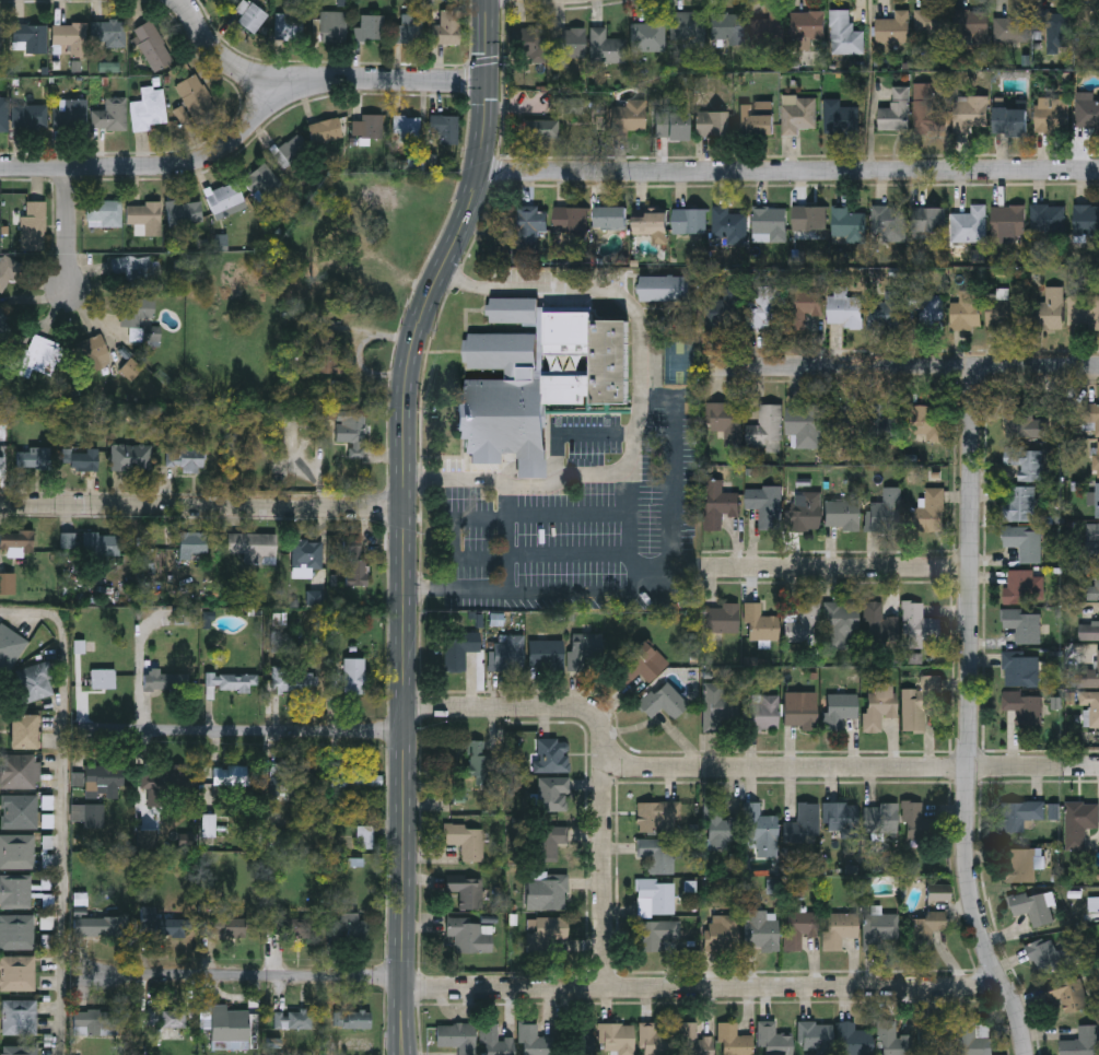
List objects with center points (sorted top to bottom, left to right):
building: (250, 16)
building: (932, 25)
building: (289, 26)
building: (332, 27)
building: (370, 27)
building: (409, 28)
building: (447, 28)
building: (728, 30)
building: (809, 30)
building: (972, 30)
building: (688, 31)
building: (893, 31)
building: (768, 32)
building: (1054, 32)
building: (108, 34)
building: (31, 36)
building: (70, 36)
building: (650, 36)
building: (844, 36)
building: (1013, 39)
building: (0, 40)
building: (569, 44)
building: (152, 46)
building: (607, 49)
road: (224, 63)
traffic signals: (488, 83)
building: (195, 96)
building: (149, 109)
building: (575, 109)
building: (70, 113)
building: (926, 113)
building: (1087, 113)
building: (3, 114)
building: (110, 115)
building: (30, 116)
building: (797, 116)
building: (971, 116)
building: (1051, 117)
building: (629, 118)
building: (895, 119)
building: (757, 120)
building: (840, 120)
building: (1010, 124)
building: (713, 125)
building: (671, 127)
building: (407, 128)
building: (444, 128)
building: (366, 129)
building: (324, 130)
building: (550, 130)
road: (246, 132)
building: (289, 151)
road: (788, 173)
building: (261, 178)
building: (381, 195)
building: (223, 197)
building: (184, 212)
building: (104, 213)
building: (144, 216)
building: (610, 220)
building: (28, 221)
building: (888, 221)
building: (1048, 221)
building: (571, 222)
building: (809, 222)
building: (927, 222)
building: (1008, 223)
building: (1086, 223)
building: (689, 224)
building: (770, 226)
building: (849, 226)
road: (71, 227)
building: (970, 227)
building: (530, 228)
building: (728, 228)
building: (652, 230)
building: (132, 268)
building: (5, 270)
building: (664, 291)
building: (926, 305)
building: (804, 308)
building: (135, 309)
building: (726, 310)
building: (764, 310)
building: (968, 310)
building: (893, 312)
building: (1049, 312)
building: (844, 313)
building: (1003, 313)
building: (1084, 313)
building: (2, 323)
building: (94, 352)
building: (328, 353)
building: (37, 355)
road: (904, 367)
building: (538, 379)
road: (642, 400)
building: (3, 414)
building: (923, 422)
building: (1090, 422)
building: (1020, 423)
building: (349, 426)
building: (730, 427)
building: (881, 427)
building: (767, 429)
building: (805, 429)
building: (846, 429)
road: (598, 437)
building: (33, 457)
building: (131, 457)
building: (0, 458)
building: (79, 458)
building: (186, 459)
building: (1098, 461)
building: (1026, 466)
road: (531, 468)
road: (503, 471)
road: (557, 472)
building: (1097, 503)
road: (203, 506)
building: (718, 506)
building: (1020, 506)
building: (764, 507)
building: (935, 512)
building: (806, 513)
building: (885, 515)
building: (842, 516)
road: (407, 520)
building: (1092, 537)
road: (512, 539)
building: (16, 540)
building: (191, 543)
building: (100, 544)
building: (1025, 544)
building: (254, 547)
road: (616, 553)
building: (306, 554)
building: (355, 564)
road: (841, 566)
building: (7, 583)
building: (1097, 585)
road: (635, 589)
building: (1022, 589)
building: (722, 620)
building: (760, 625)
building: (804, 625)
building: (841, 625)
building: (879, 625)
building: (919, 626)
building: (1024, 626)
building: (1089, 633)
building: (10, 645)
building: (461, 649)
building: (507, 655)
building: (547, 655)
building: (580, 658)
building: (640, 666)
building: (1020, 671)
building: (351, 676)
building: (103, 679)
building: (1089, 679)
building: (160, 680)
building: (35, 681)
building: (230, 681)
building: (290, 681)
building: (664, 702)
building: (921, 703)
road: (530, 704)
building: (721, 706)
building: (879, 707)
building: (1024, 708)
building: (1091, 712)
building: (762, 714)
building: (842, 714)
road: (970, 715)
building: (800, 717)
building: (23, 730)
road: (244, 731)
building: (538, 753)
building: (477, 759)
road: (787, 767)
road: (1034, 767)
building: (20, 770)
building: (231, 773)
building: (354, 774)
building: (291, 775)
building: (104, 776)
building: (162, 776)
building: (557, 786)
road: (63, 804)
building: (19, 811)
building: (1020, 814)
building: (657, 816)
building: (843, 819)
building: (808, 820)
building: (881, 820)
building: (916, 823)
building: (1078, 824)
building: (718, 828)
building: (760, 828)
building: (466, 841)
building: (549, 845)
building: (16, 851)
building: (658, 855)
building: (1021, 867)
road: (606, 875)
building: (15, 890)
building: (546, 892)
building: (940, 893)
building: (465, 894)
building: (656, 899)
building: (1033, 909)
building: (161, 922)
building: (931, 923)
building: (96, 925)
building: (351, 926)
building: (229, 927)
building: (299, 927)
building: (802, 928)
building: (840, 930)
building: (880, 930)
building: (16, 931)
building: (761, 933)
building: (545, 934)
building: (722, 934)
building: (656, 935)
building: (471, 936)
building: (1045, 959)
building: (16, 972)
road: (243, 977)
road: (704, 981)
building: (1068, 999)
building: (20, 1016)
building: (166, 1018)
building: (292, 1019)
building: (351, 1019)
building: (95, 1021)
building: (229, 1028)
building: (457, 1038)
building: (816, 1038)
building: (937, 1039)
building: (975, 1039)
building: (617, 1040)
building: (893, 1040)
building: (534, 1041)
building: (655, 1041)
building: (694, 1041)
building: (734, 1041)
building: (773, 1041)
building: (853, 1041)
building: (496, 1042)
building: (576, 1043)
building: (1083, 1043)
building: (19, 1050)

